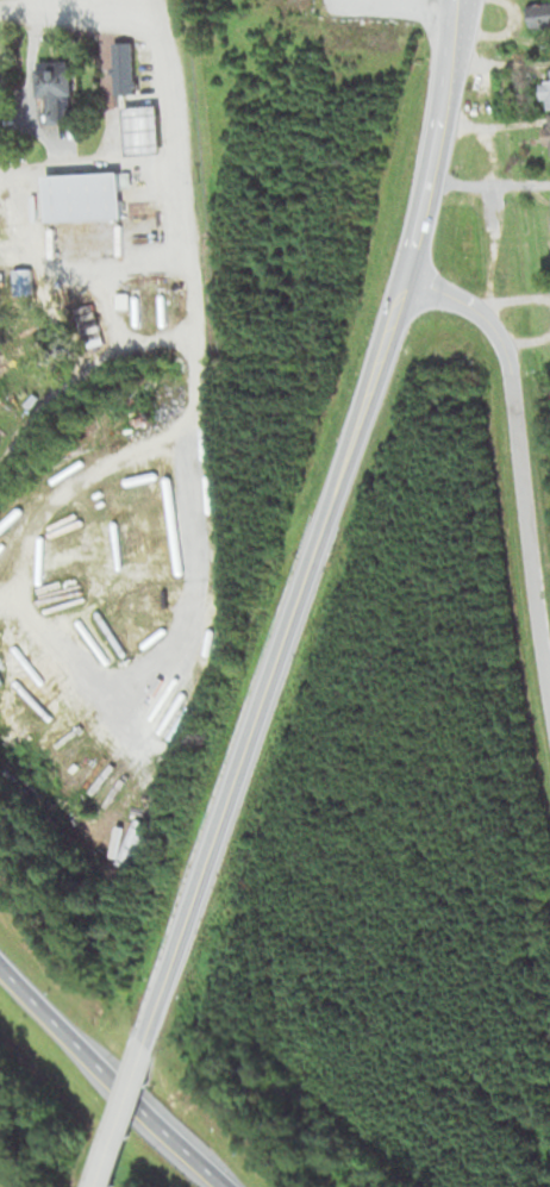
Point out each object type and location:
road: (25, 1)
building: (539, 14)
building: (57, 88)
building: (545, 90)
building: (549, 115)
building: (148, 130)
building: (546, 133)
road: (435, 138)
road: (489, 183)
building: (86, 195)
building: (14, 208)
road: (187, 244)
building: (101, 337)
road: (517, 466)
road: (274, 657)
road: (110, 1077)
road: (126, 1116)

